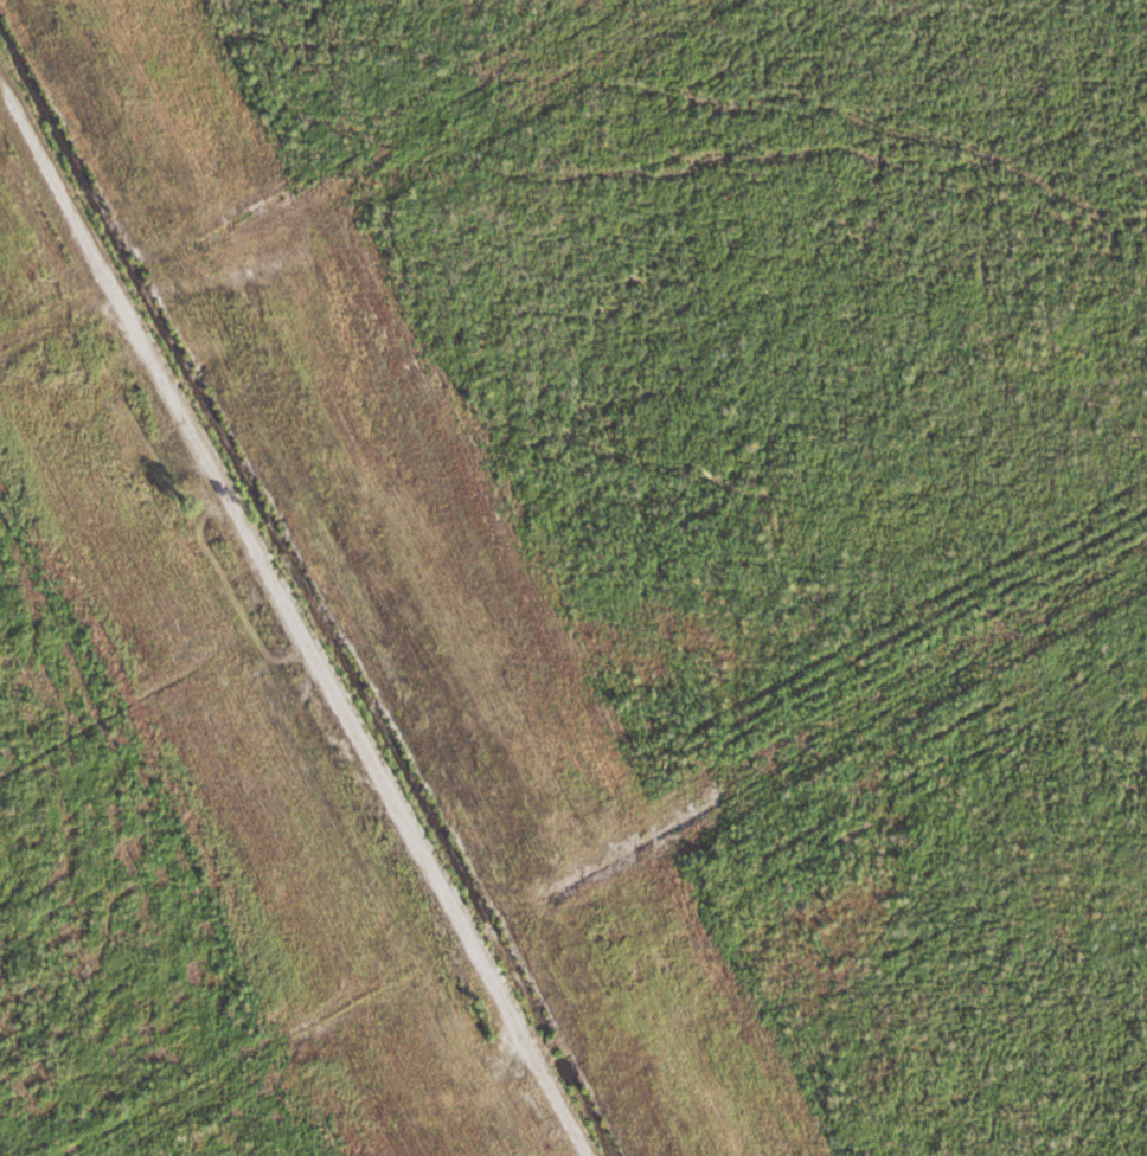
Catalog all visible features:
road: (258, 693)

